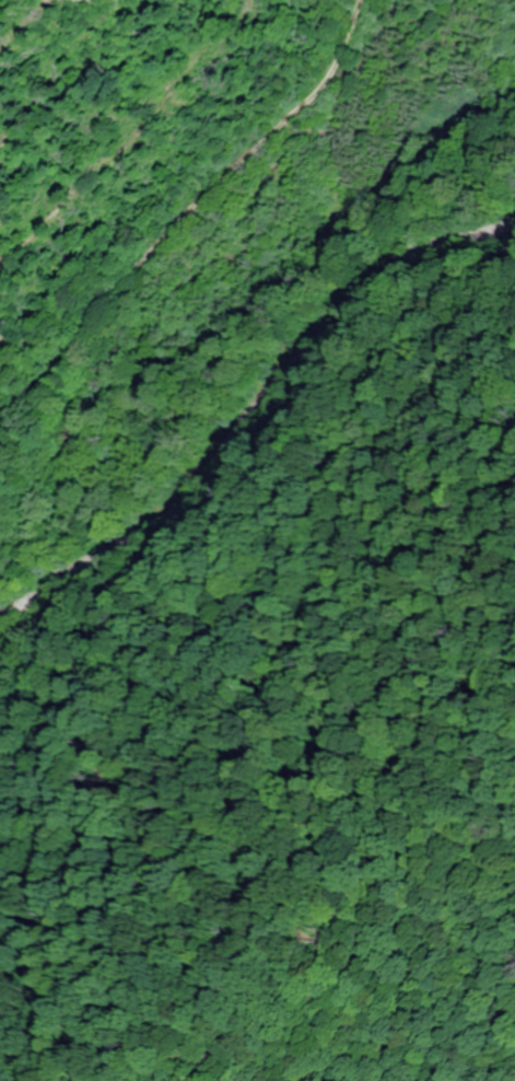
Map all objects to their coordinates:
road: (177, 225)
road: (250, 418)

